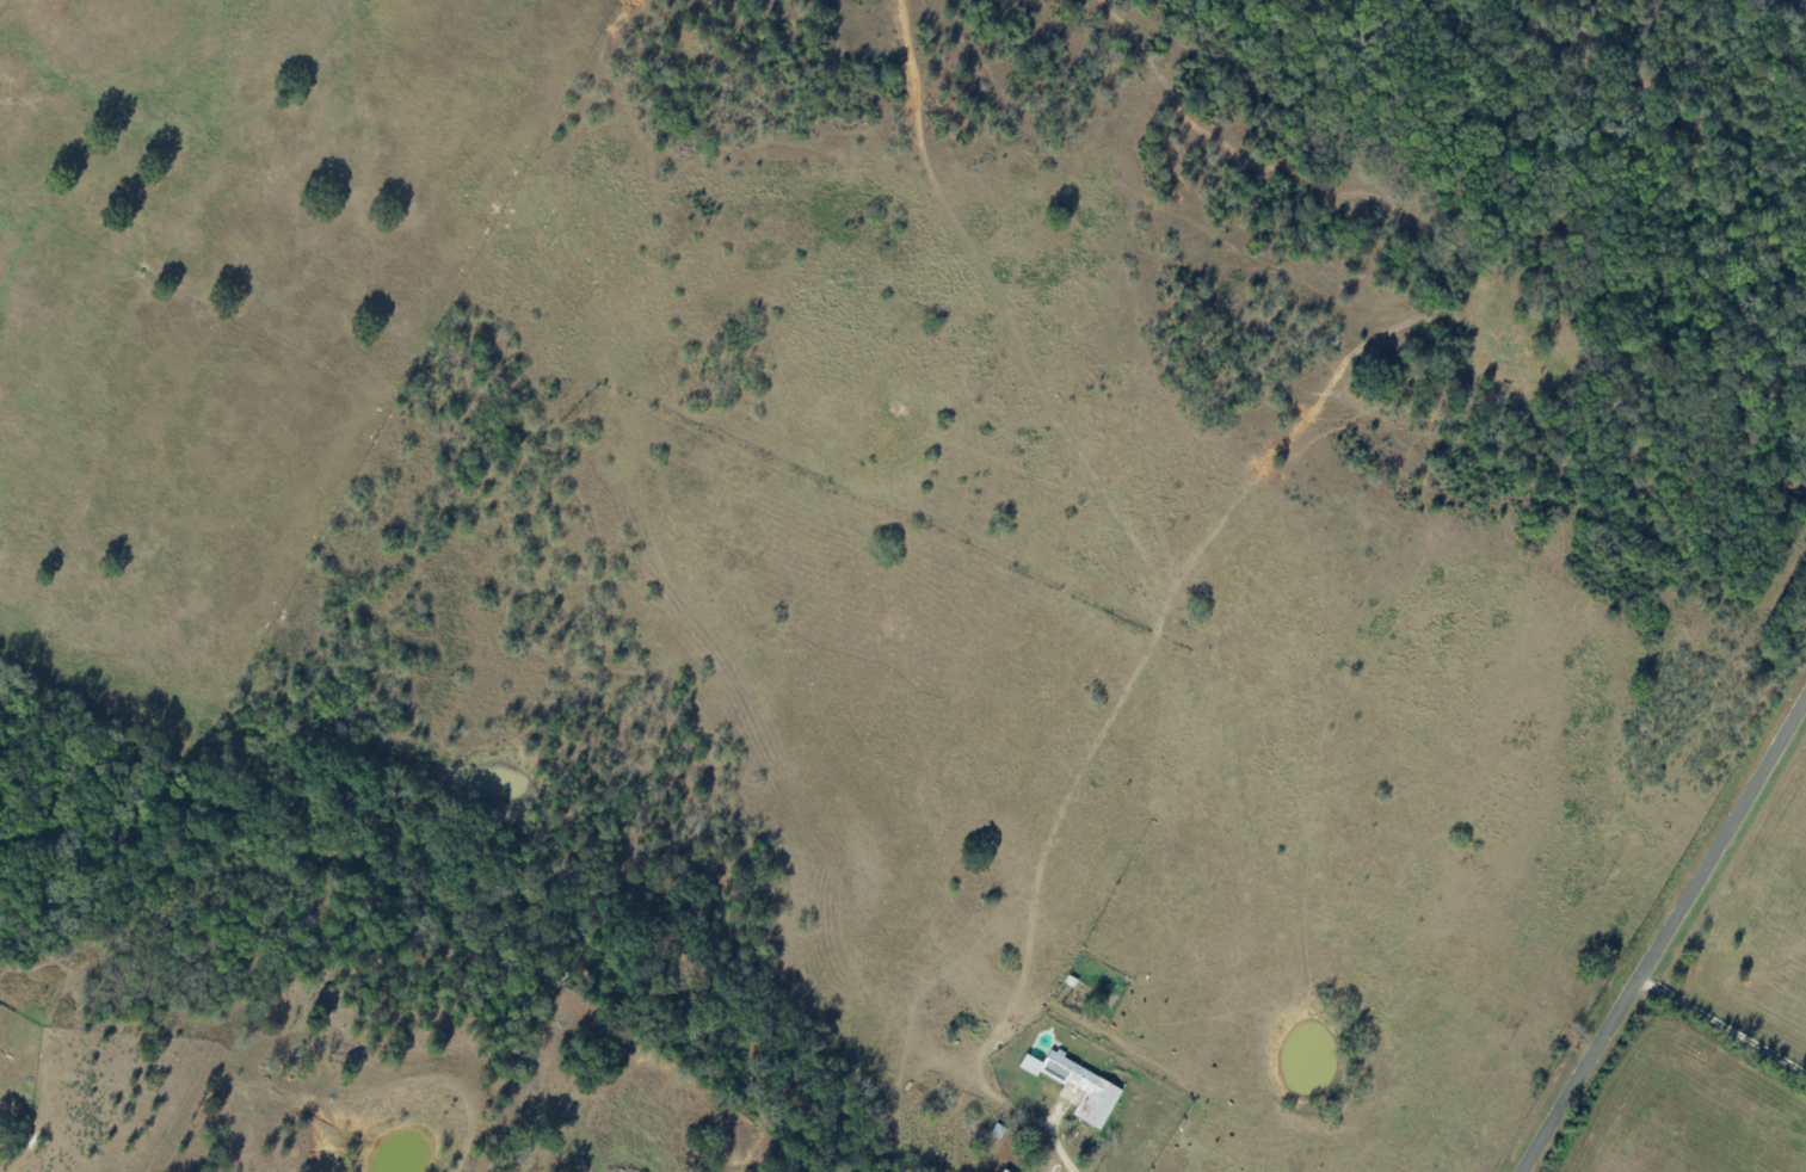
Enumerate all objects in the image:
road: (1666, 937)
road: (1725, 1020)
building: (1079, 1085)
road: (1056, 1159)
building: (1005, 1171)

